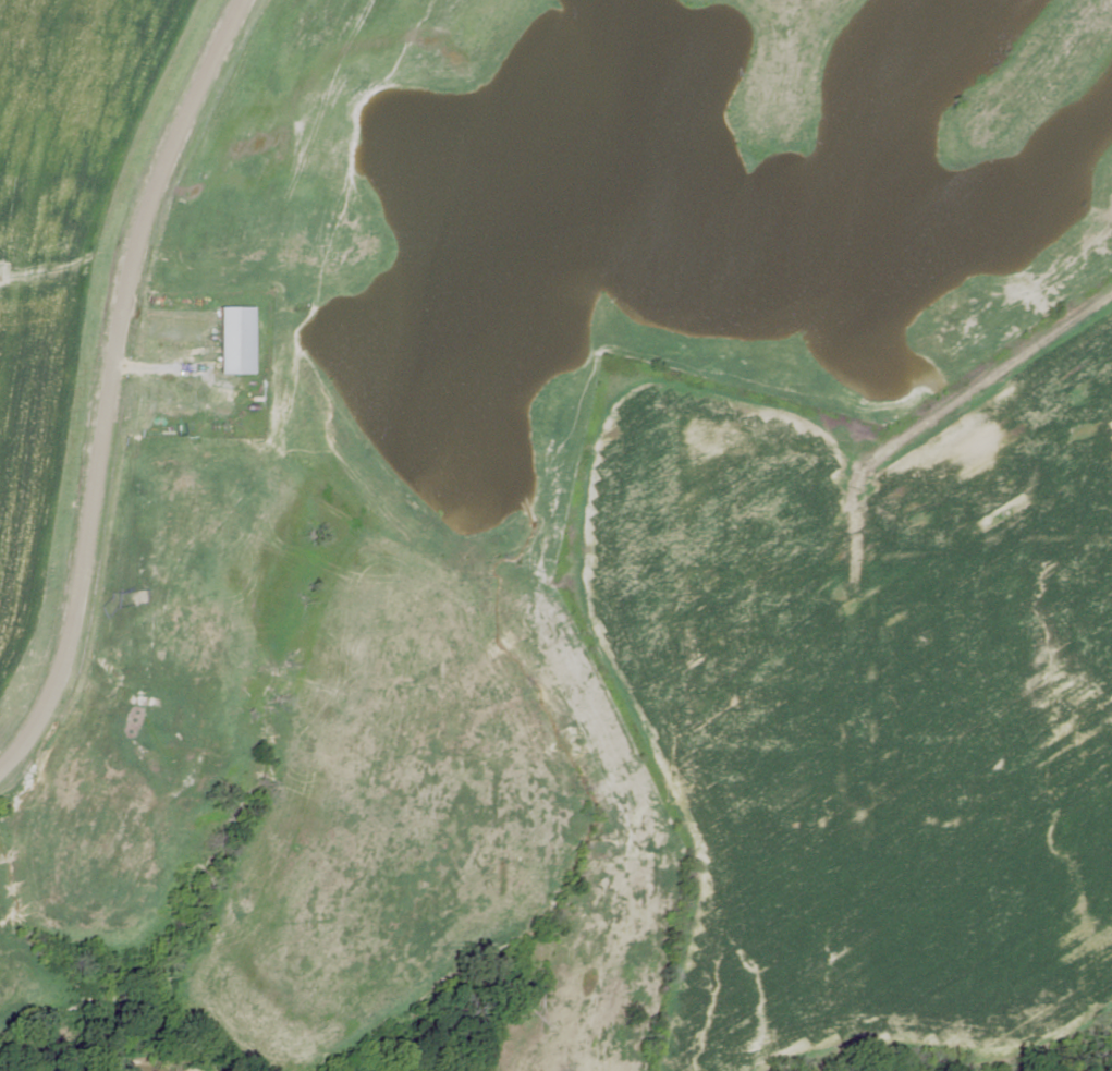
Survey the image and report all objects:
building: (232, 340)
road: (118, 367)

